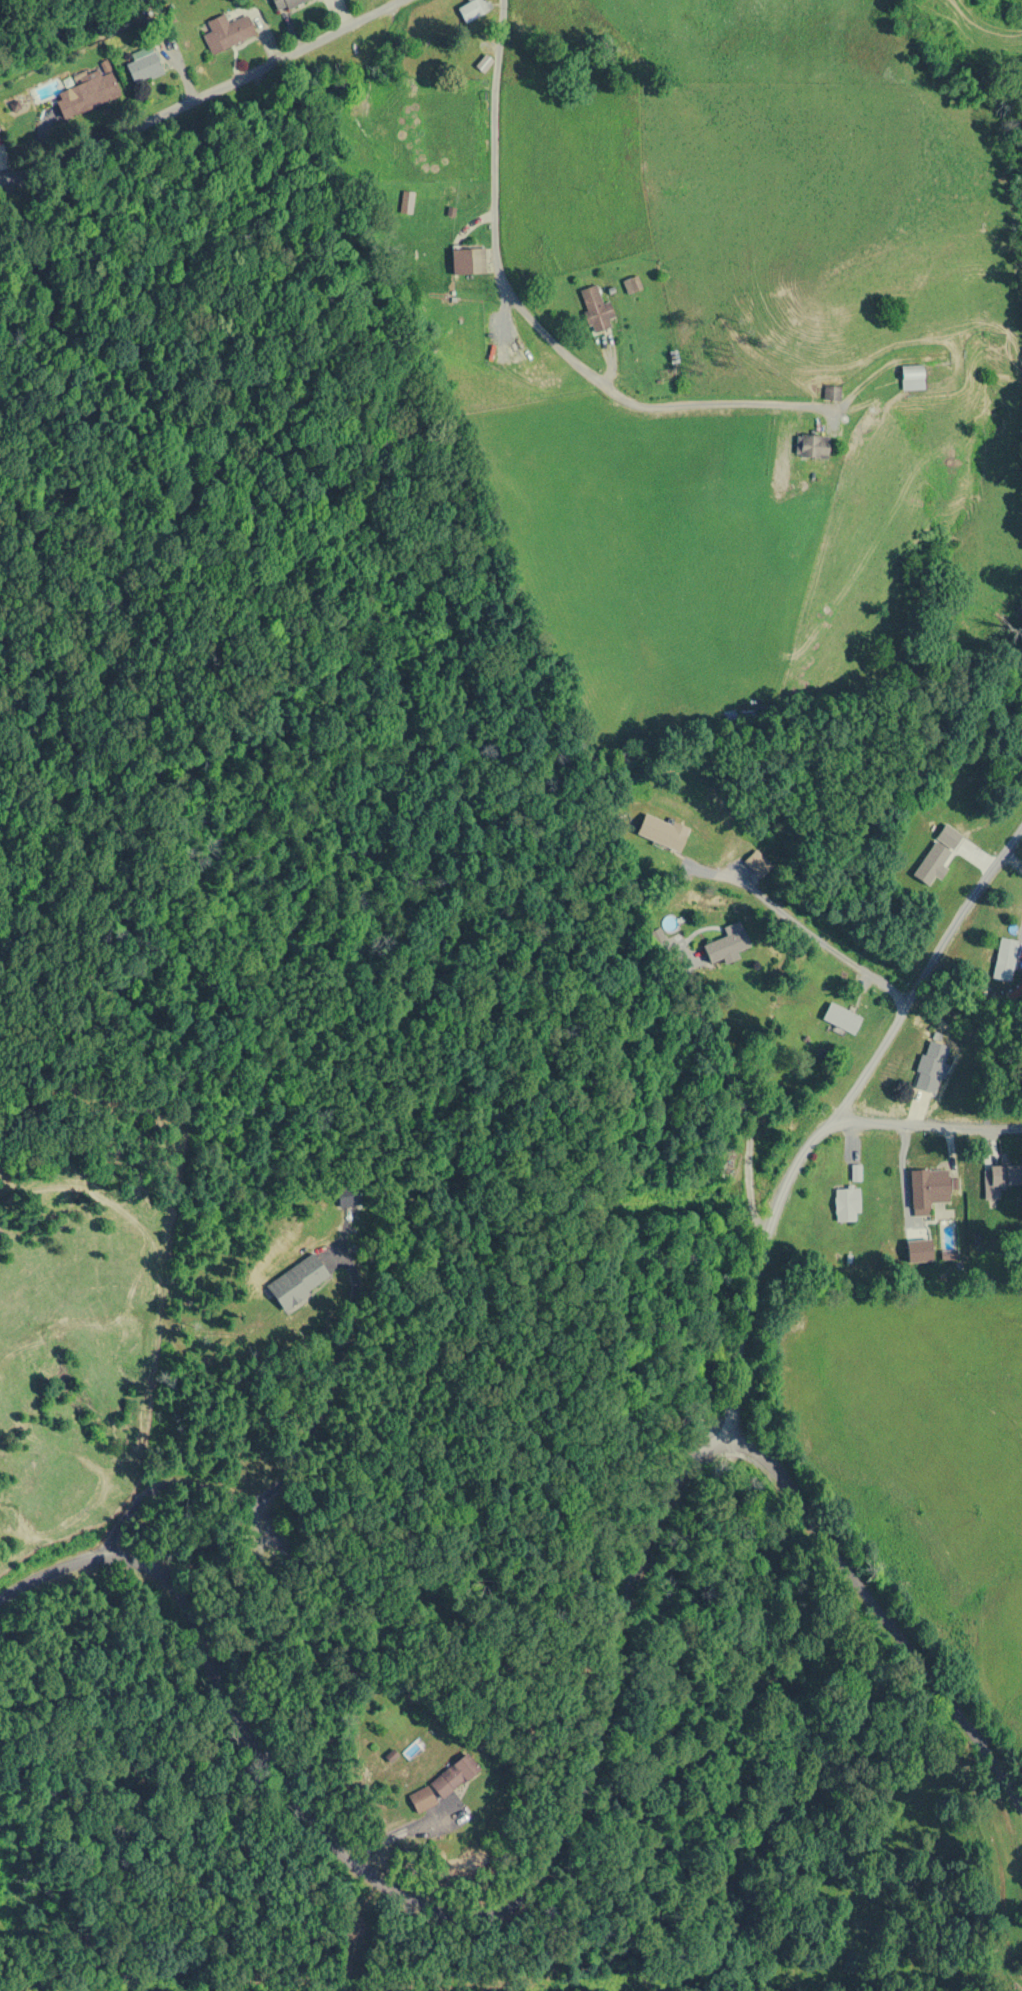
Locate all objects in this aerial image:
building: (282, 3)
building: (473, 9)
building: (227, 32)
building: (144, 65)
building: (89, 91)
road: (205, 93)
building: (406, 201)
road: (495, 232)
building: (468, 260)
building: (632, 285)
building: (596, 309)
building: (913, 377)
road: (735, 406)
building: (815, 446)
building: (663, 832)
building: (937, 855)
building: (727, 946)
building: (1005, 959)
road: (927, 979)
building: (841, 1018)
building: (930, 1067)
road: (922, 1124)
building: (931, 1190)
building: (846, 1206)
road: (753, 1281)
building: (297, 1283)
road: (802, 1514)
building: (455, 1776)
building: (423, 1799)
road: (319, 1830)

